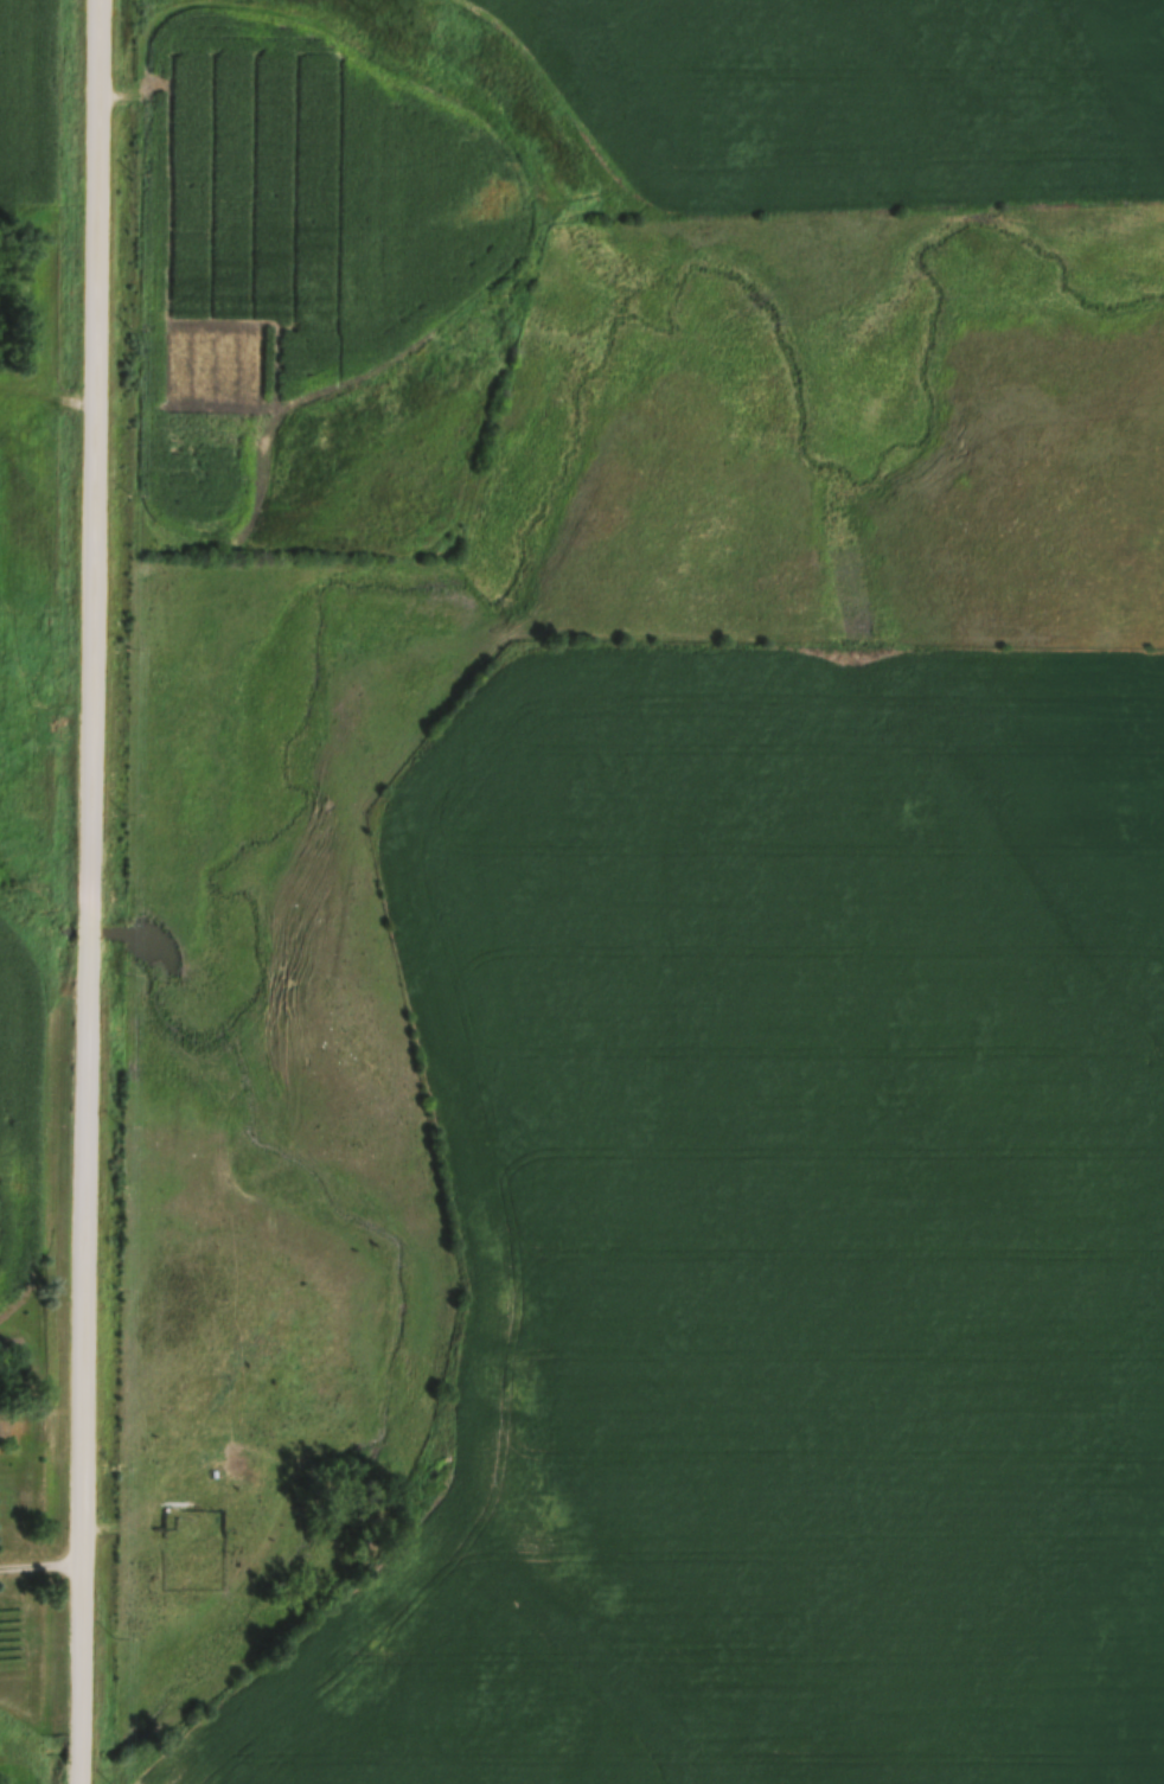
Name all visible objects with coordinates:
road: (92, 891)
road: (41, 1556)

